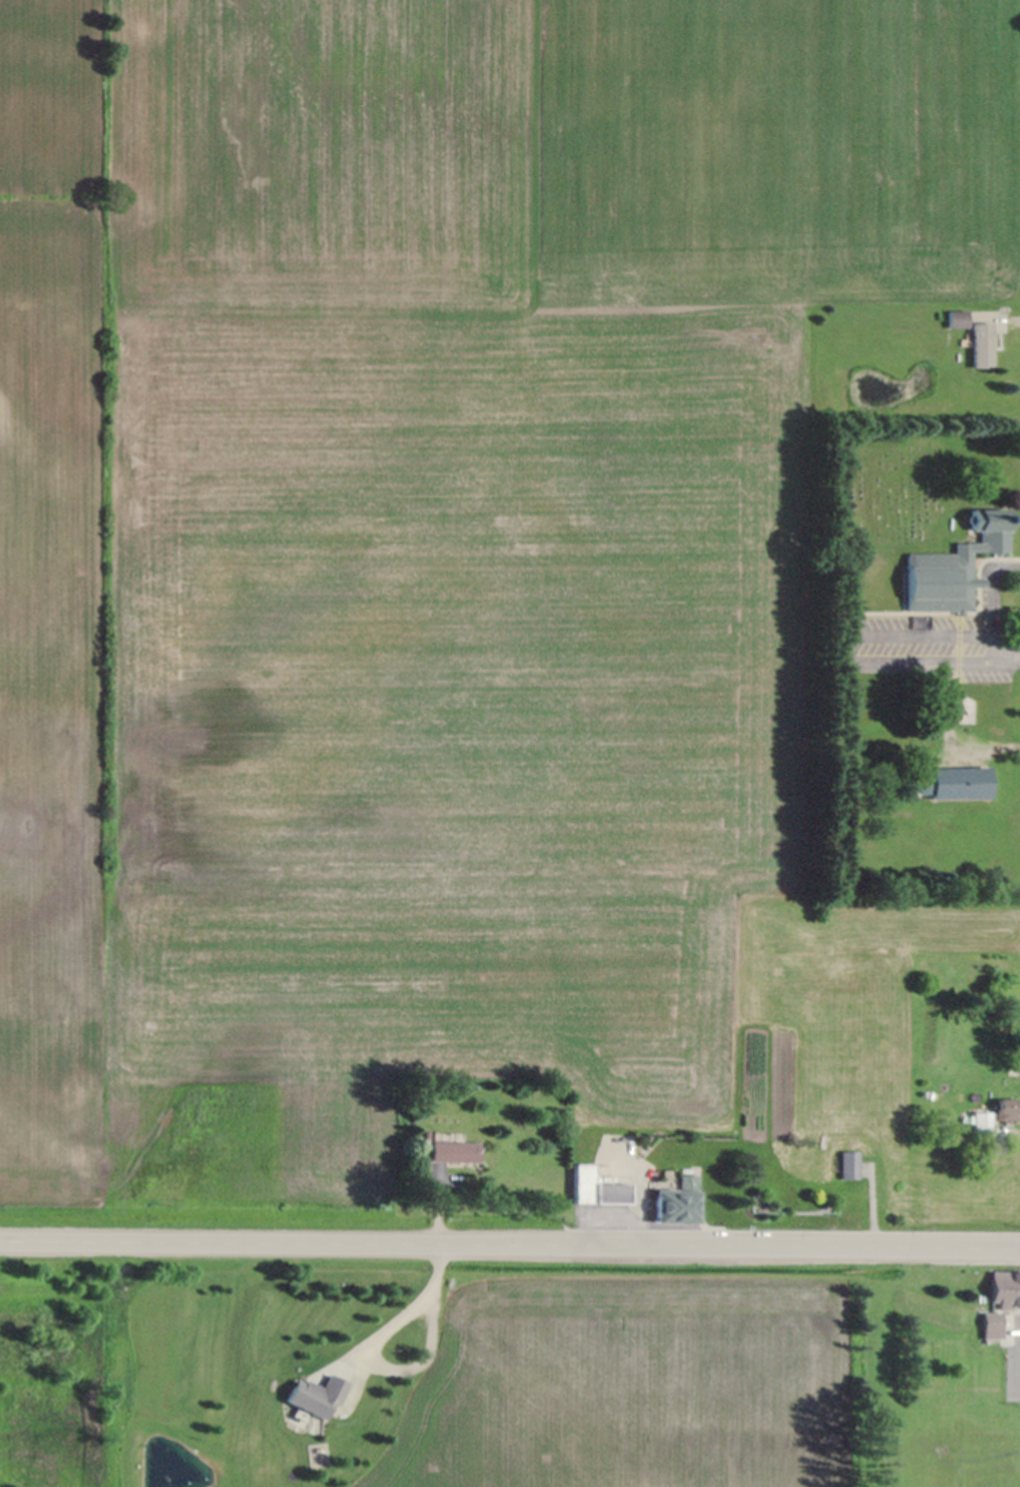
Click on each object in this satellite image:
building: (958, 318)
building: (968, 338)
building: (983, 345)
building: (957, 564)
road: (991, 581)
road: (853, 657)
building: (957, 782)
building: (1008, 1108)
building: (980, 1121)
building: (427, 1136)
building: (443, 1136)
building: (457, 1136)
building: (850, 1146)
building: (454, 1151)
building: (837, 1161)
building: (849, 1164)
building: (670, 1175)
building: (669, 1185)
building: (596, 1188)
building: (678, 1200)
road: (509, 1246)
building: (1006, 1288)
road: (402, 1309)
building: (992, 1324)
road: (419, 1357)
building: (122, 1362)
building: (319, 1395)
building: (304, 1414)
building: (299, 1420)
building: (319, 1450)
building: (190, 1453)
building: (181, 1462)
building: (328, 1463)
building: (167, 1472)

